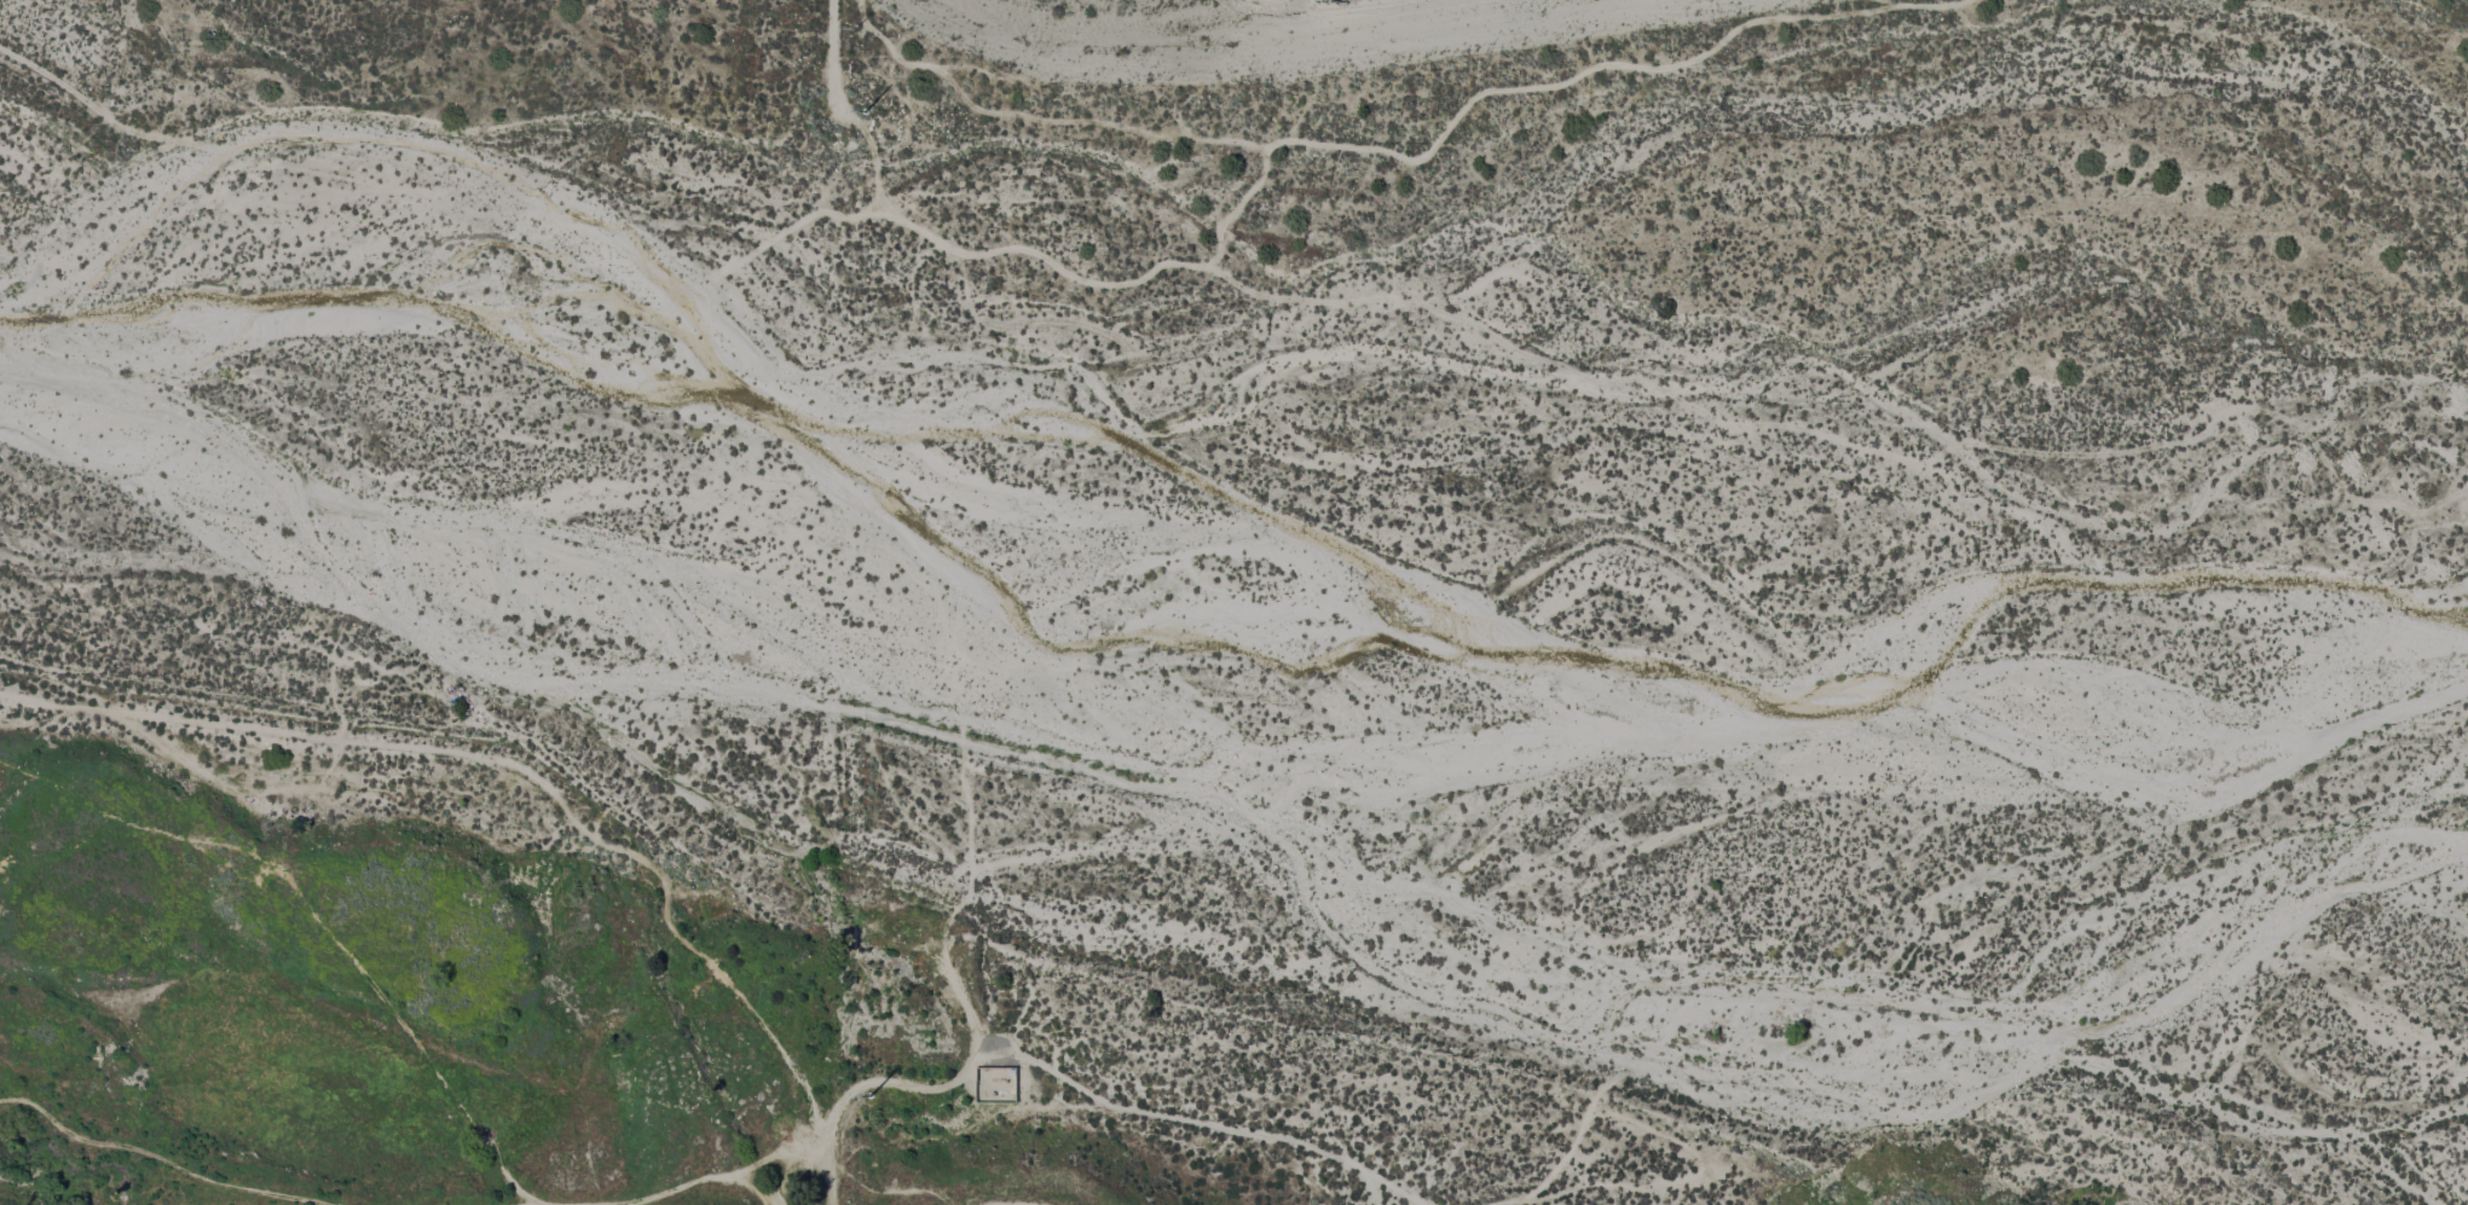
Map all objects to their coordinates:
road: (1946, 6)
quarry: (1271, 28)
road: (1311, 152)
river: (1183, 557)
building: (1007, 1073)

